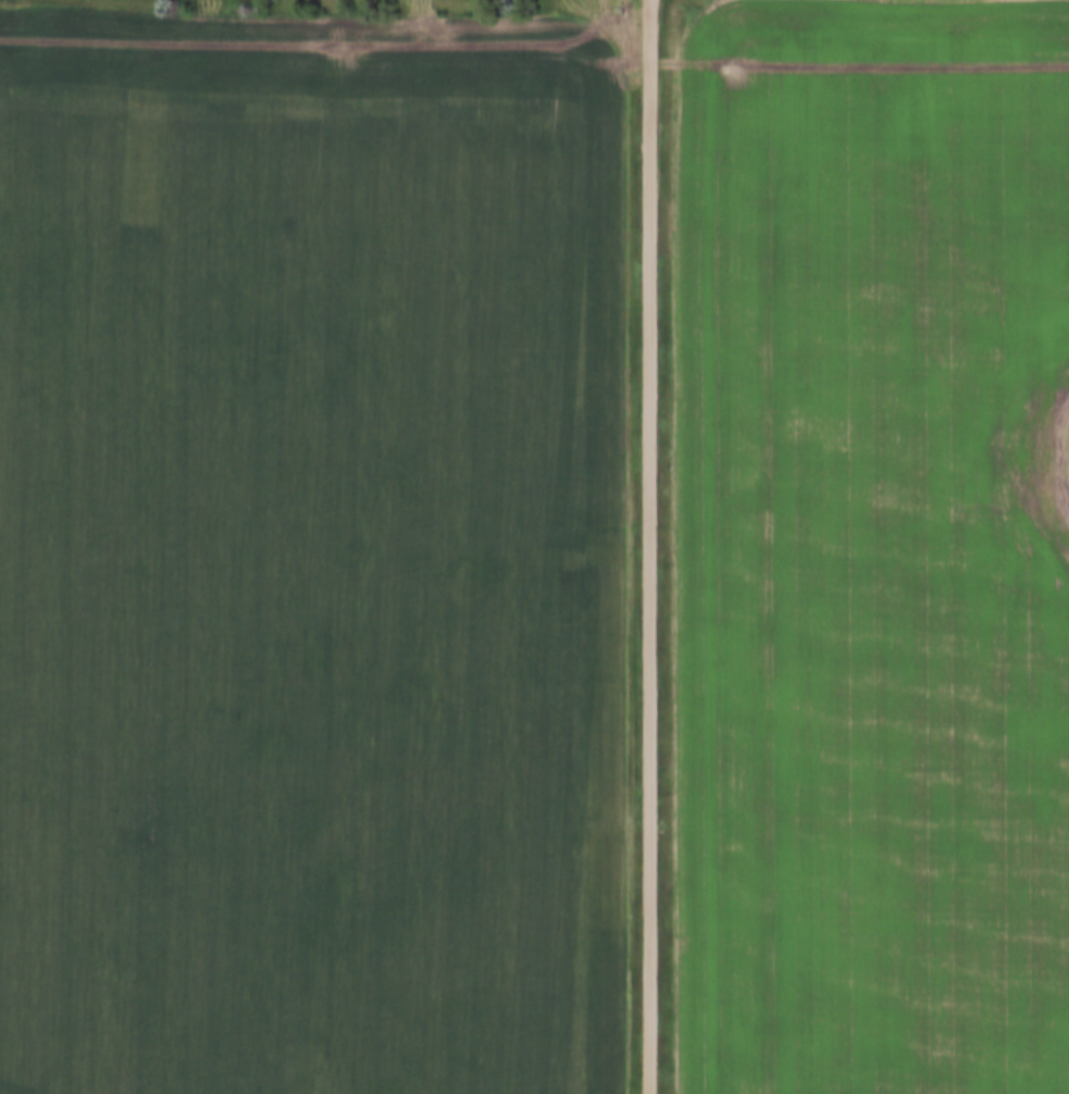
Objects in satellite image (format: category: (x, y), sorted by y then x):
road: (651, 546)

